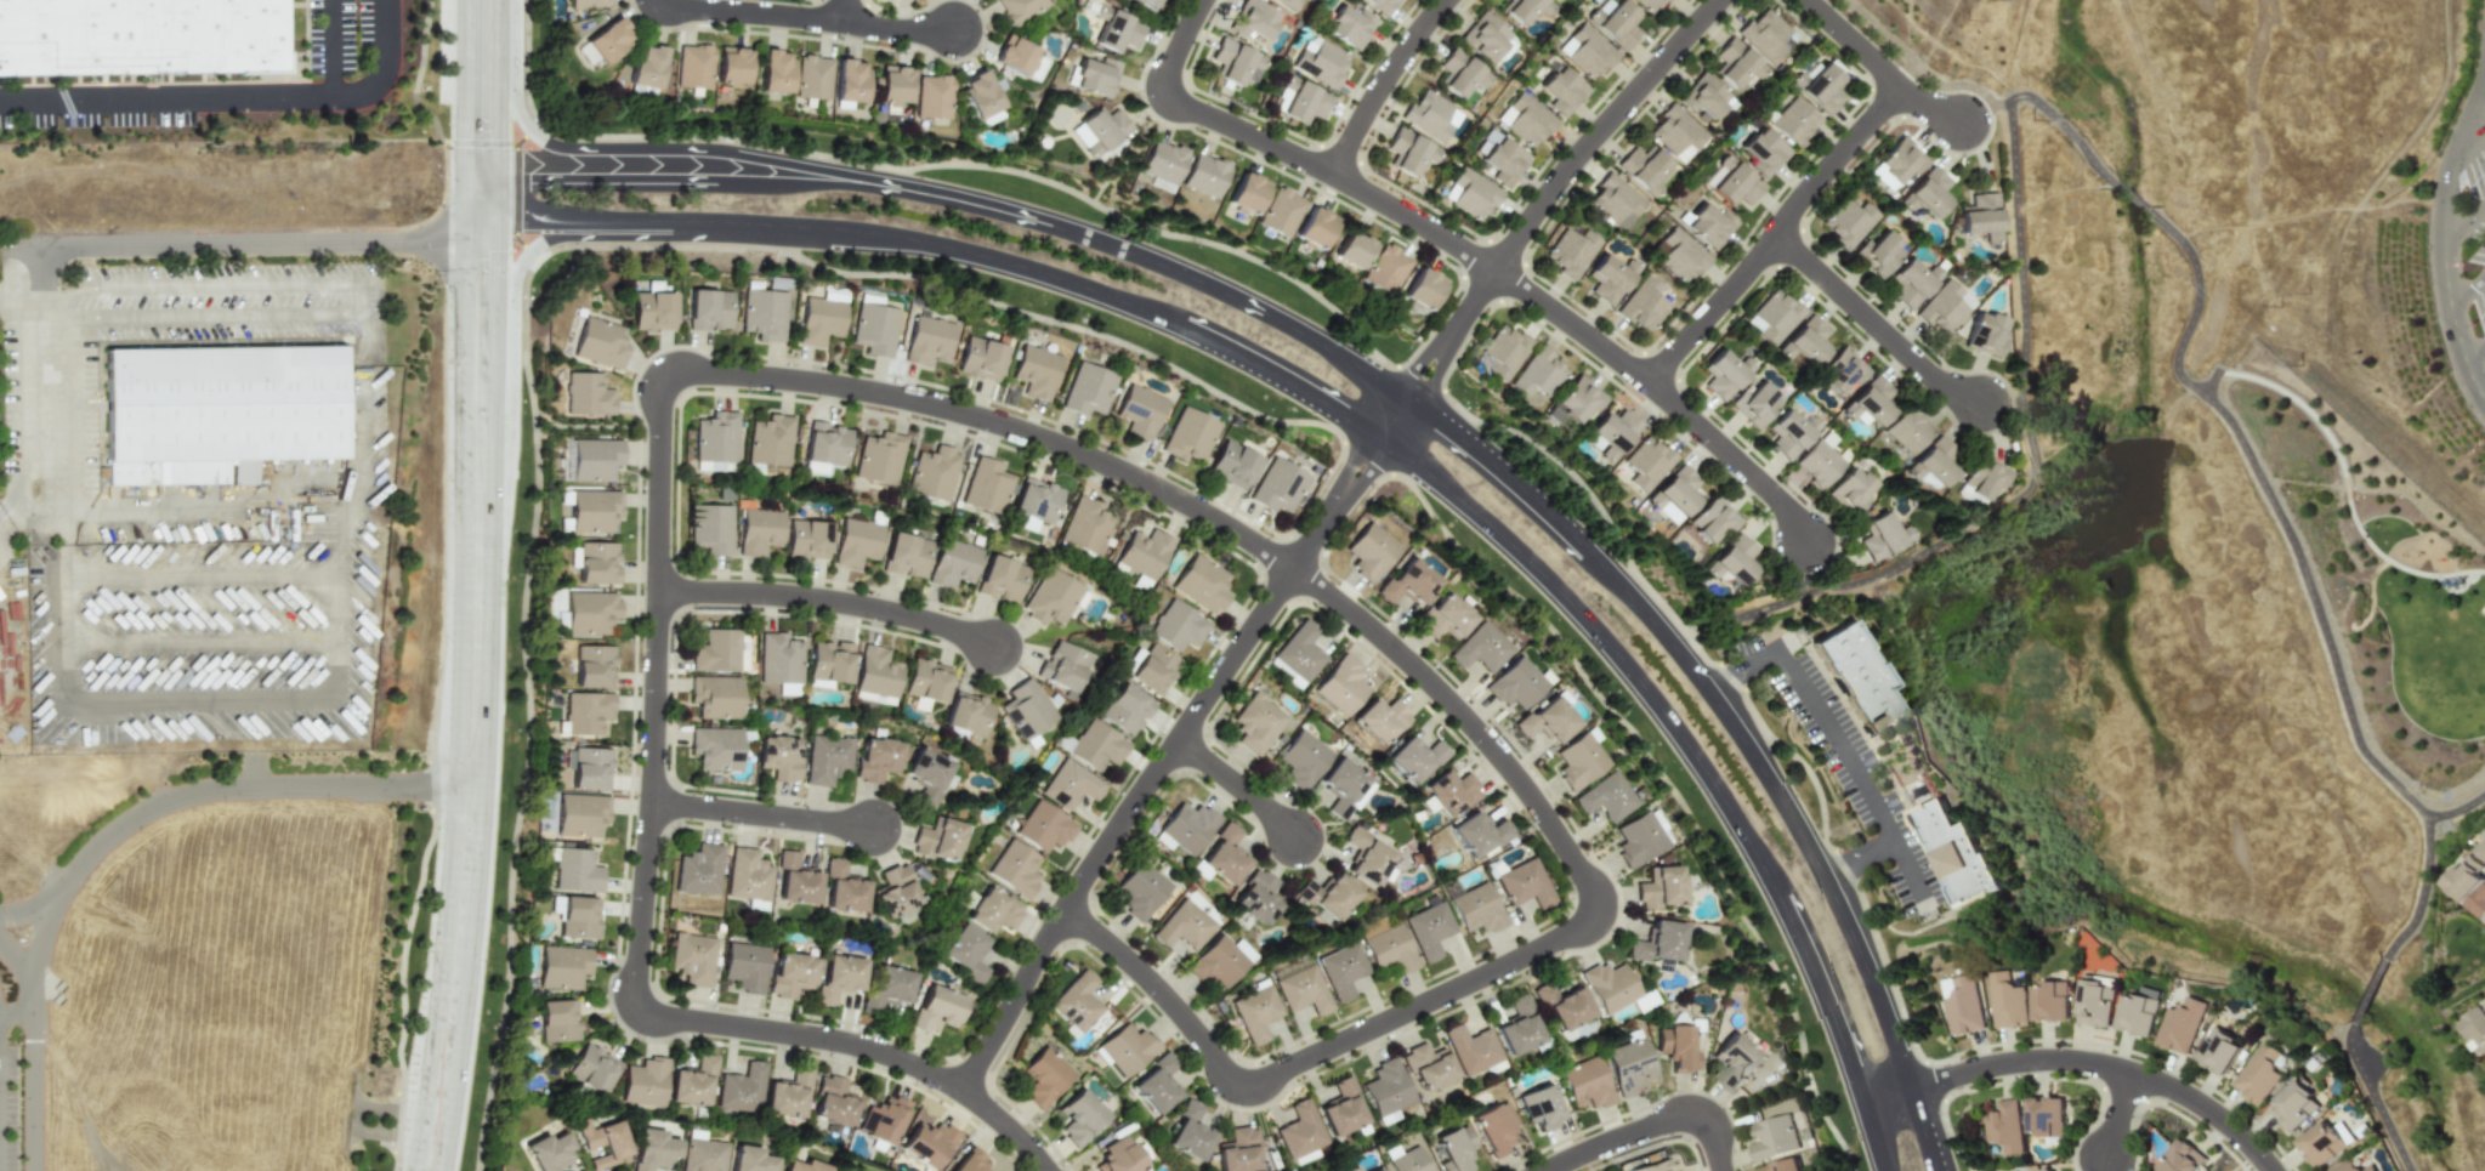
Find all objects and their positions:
building: (1556, 0)
building: (1287, 2)
building: (588, 4)
building: (1146, 4)
building: (1381, 5)
building: (1649, 5)
road: (845, 7)
street lamp: (432, 8)
building: (1019, 8)
building: (1524, 8)
road: (755, 11)
building: (1253, 19)
building: (1615, 22)
road: (903, 23)
building: (1349, 25)
building: (1116, 29)
building: (1768, 33)
building: (141, 38)
building: (1485, 38)
building: (608, 39)
road: (1851, 40)
road: (329, 47)
road: (1175, 47)
building: (1585, 51)
building: (1015, 55)
building: (1321, 61)
building: (1235, 62)
building: (1736, 63)
building: (648, 66)
building: (694, 66)
building: (732, 66)
road: (1908, 66)
building: (1036, 68)
building: (775, 72)
building: (1459, 73)
building: (1096, 76)
building: (813, 78)
road: (1384, 83)
building: (850, 84)
building: (893, 85)
road: (497, 89)
building: (1822, 89)
road: (463, 90)
building: (1560, 90)
road: (236, 96)
building: (934, 96)
building: (981, 98)
building: (1704, 100)
building: (1300, 101)
road: (1933, 101)
road: (1987, 112)
building: (1431, 115)
building: (1525, 119)
building: (1795, 121)
building: (1099, 130)
road: (2066, 130)
traffic signals: (463, 131)
building: (1676, 132)
road: (535, 135)
street lamp: (447, 146)
road: (2469, 149)
street lamp: (514, 150)
building: (1764, 150)
building: (1407, 152)
building: (1500, 158)
building: (1899, 160)
building: (1162, 165)
building: (1644, 167)
road: (1571, 169)
road: (1337, 172)
traffic signals: (531, 175)
road: (601, 175)
building: (1204, 175)
building: (1731, 183)
building: (1247, 192)
building: (1929, 192)
building: (1470, 194)
road: (2132, 199)
building: (1616, 201)
building: (1280, 212)
building: (1980, 216)
road: (2466, 221)
building: (1848, 222)
building: (1708, 226)
building: (1315, 227)
road: (1777, 234)
street lamp: (511, 237)
traffic signals: (418, 243)
road: (231, 245)
road: (2446, 248)
building: (1352, 250)
building: (1571, 251)
building: (1878, 252)
building: (1680, 255)
road: (524, 260)
traffic signals: (481, 268)
building: (1386, 269)
street lamp: (430, 272)
building: (1610, 278)
building: (1908, 284)
road: (2469, 288)
building: (1422, 290)
building: (832, 295)
road: (18, 301)
building: (1643, 305)
building: (1945, 307)
building: (709, 309)
building: (653, 311)
building: (764, 314)
building: (1774, 317)
building: (818, 320)
road: (1878, 324)
building: (874, 329)
building: (1985, 335)
building: (927, 340)
building: (1805, 341)
building: (600, 343)
building: (1503, 352)
road: (2477, 353)
building: (980, 359)
road: (680, 364)
building: (1842, 370)
building: (1036, 371)
building: (1539, 371)
building: (1721, 374)
road: (1409, 376)
road: (2209, 382)
road: (1425, 386)
building: (1088, 390)
building: (588, 394)
road: (1663, 397)
building: (1872, 399)
building: (1575, 400)
building: (226, 404)
road: (1999, 405)
building: (1140, 411)
road: (34, 425)
building: (1907, 430)
street lamp: (540, 432)
building: (1612, 432)
building: (1789, 433)
building: (1188, 436)
road: (1357, 436)
building: (716, 437)
building: (770, 440)
building: (826, 444)
road: (1362, 448)
road: (1378, 455)
building: (879, 457)
building: (595, 459)
road: (1503, 460)
building: (1819, 461)
building: (1936, 461)
building: (1647, 462)
building: (713, 465)
building: (1232, 465)
building: (816, 468)
building: (934, 473)
building: (1980, 479)
road: (478, 481)
road: (2347, 484)
building: (987, 485)
building: (1277, 485)
building: (1850, 487)
road: (2032, 488)
building: (1675, 494)
building: (1036, 500)
building: (594, 512)
building: (1713, 519)
building: (1084, 525)
building: (710, 529)
building: (759, 530)
building: (1882, 536)
building: (807, 539)
building: (856, 542)
building: (1144, 552)
building: (1369, 552)
building: (904, 555)
building: (1734, 561)
building: (596, 563)
building: (952, 563)
park: (2377, 575)
road: (2304, 578)
road: (203, 579)
building: (1000, 579)
street lamp: (2428, 579)
street lamp: (429, 580)
building: (1408, 582)
building: (1201, 584)
road: (2368, 589)
road: (830, 604)
park: (2483, 609)
building: (589, 612)
building: (1445, 616)
building: (1178, 626)
road: (203, 642)
building: (1481, 647)
building: (716, 650)
building: (1299, 653)
building: (778, 659)
building: (828, 664)
road: (337, 665)
building: (592, 665)
building: (1061, 666)
building: (1150, 667)
building: (875, 672)
building: (1854, 677)
building: (924, 683)
building: (1516, 683)
building: (1341, 684)
building: (788, 689)
building: (714, 697)
building: (872, 698)
building: (1025, 709)
building: (1124, 709)
building: (586, 711)
building: (966, 714)
building: (1381, 718)
building: (1548, 718)
building: (1255, 723)
street lamp: (518, 731)
road: (1839, 740)
building: (1095, 746)
building: (715, 749)
building: (778, 757)
building: (1301, 757)
building: (1415, 757)
building: (874, 758)
building: (1581, 758)
building: (824, 760)
building: (588, 768)
road: (255, 771)
building: (925, 775)
road: (1148, 783)
building: (1068, 785)
building: (1344, 786)
road: (1237, 789)
road: (195, 791)
building: (1449, 791)
building: (1606, 797)
street lamp: (327, 801)
street lamp: (412, 802)
street lamp: (223, 803)
road: (2457, 808)
building: (580, 814)
road: (765, 814)
building: (1042, 826)
building: (1186, 826)
street lamp: (138, 832)
building: (1479, 834)
building: (1641, 836)
building: (936, 840)
building: (2480, 849)
building: (1221, 854)
building: (1956, 854)
building: (1367, 855)
road: (1865, 859)
building: (1012, 869)
building: (698, 870)
building: (575, 871)
building: (747, 875)
building: (2463, 879)
street lamp: (427, 881)
building: (794, 881)
building: (1522, 883)
building: (1659, 886)
building: (842, 888)
building: (1139, 889)
building: (893, 893)
building: (1326, 897)
building: (1255, 898)
building: (2478, 903)
road: (476, 904)
building: (1473, 906)
building: (992, 910)
road: (27, 911)
building: (574, 916)
street lamp: (81, 926)
building: (1181, 926)
building: (1429, 927)
building: (1657, 943)
building: (1385, 945)
building: (965, 953)
building: (692, 957)
road: (1513, 959)
building: (1220, 960)
building: (743, 966)
building: (562, 967)
building: (1340, 968)
building: (789, 974)
road: (438, 977)
building: (836, 977)
building: (1607, 985)
building: (1300, 987)
building: (886, 988)
street lamp: (7, 991)
road: (2370, 991)
building: (2007, 1000)
building: (1077, 1001)
building: (2052, 1001)
building: (2097, 1002)
building: (1962, 1004)
building: (1561, 1005)
road: (17, 1007)
building: (1254, 1007)
building: (936, 1008)
building: (2139, 1012)
building: (557, 1021)
building: (2182, 1024)
building: (1519, 1025)
street lamp: (494, 1027)
building: (2475, 1028)
building: (1675, 1045)
road: (861, 1047)
building: (1470, 1047)
building: (1125, 1048)
road: (33, 1050)
building: (2219, 1050)
street lamp: (403, 1055)
building: (1734, 1061)
road: (2075, 1061)
building: (1628, 1063)
building: (1425, 1065)
building: (591, 1068)
building: (2260, 1071)
building: (1045, 1075)
building: (1584, 1081)
building: (643, 1082)
building: (691, 1082)
building: (1156, 1084)
building: (739, 1088)
building: (1385, 1088)
road: (1777, 1091)
building: (785, 1096)
road: (2373, 1097)
road: (454, 1098)
street lamp: (21, 1099)
building: (832, 1102)
building: (2293, 1105)
building: (1539, 1107)
building: (1343, 1108)
road: (376, 1112)
street lamp: (1954, 1114)
building: (1079, 1116)
road: (2120, 1116)
building: (2046, 1118)
building: (881, 1120)
road: (1650, 1125)
building: (2005, 1126)
building: (1494, 1127)
building: (1188, 1131)
building: (1300, 1131)
road: (385, 1135)
building: (1774, 1137)
building: (602, 1142)
building: (927, 1143)
building: (2321, 1143)
building: (1454, 1147)
building: (652, 1149)
building: (1238, 1150)
building: (548, 1152)
building: (702, 1155)
building: (1118, 1155)
building: (2180, 1156)
building: (749, 1159)
building: (1405, 1159)
building: (970, 1161)
building: (1785, 1165)
building: (802, 1166)
building: (1652, 1166)
building: (2354, 1166)
building: (1350, 1167)
building: (1374, 1169)
building: (2046, 1169)
building: (1681, 1170)

